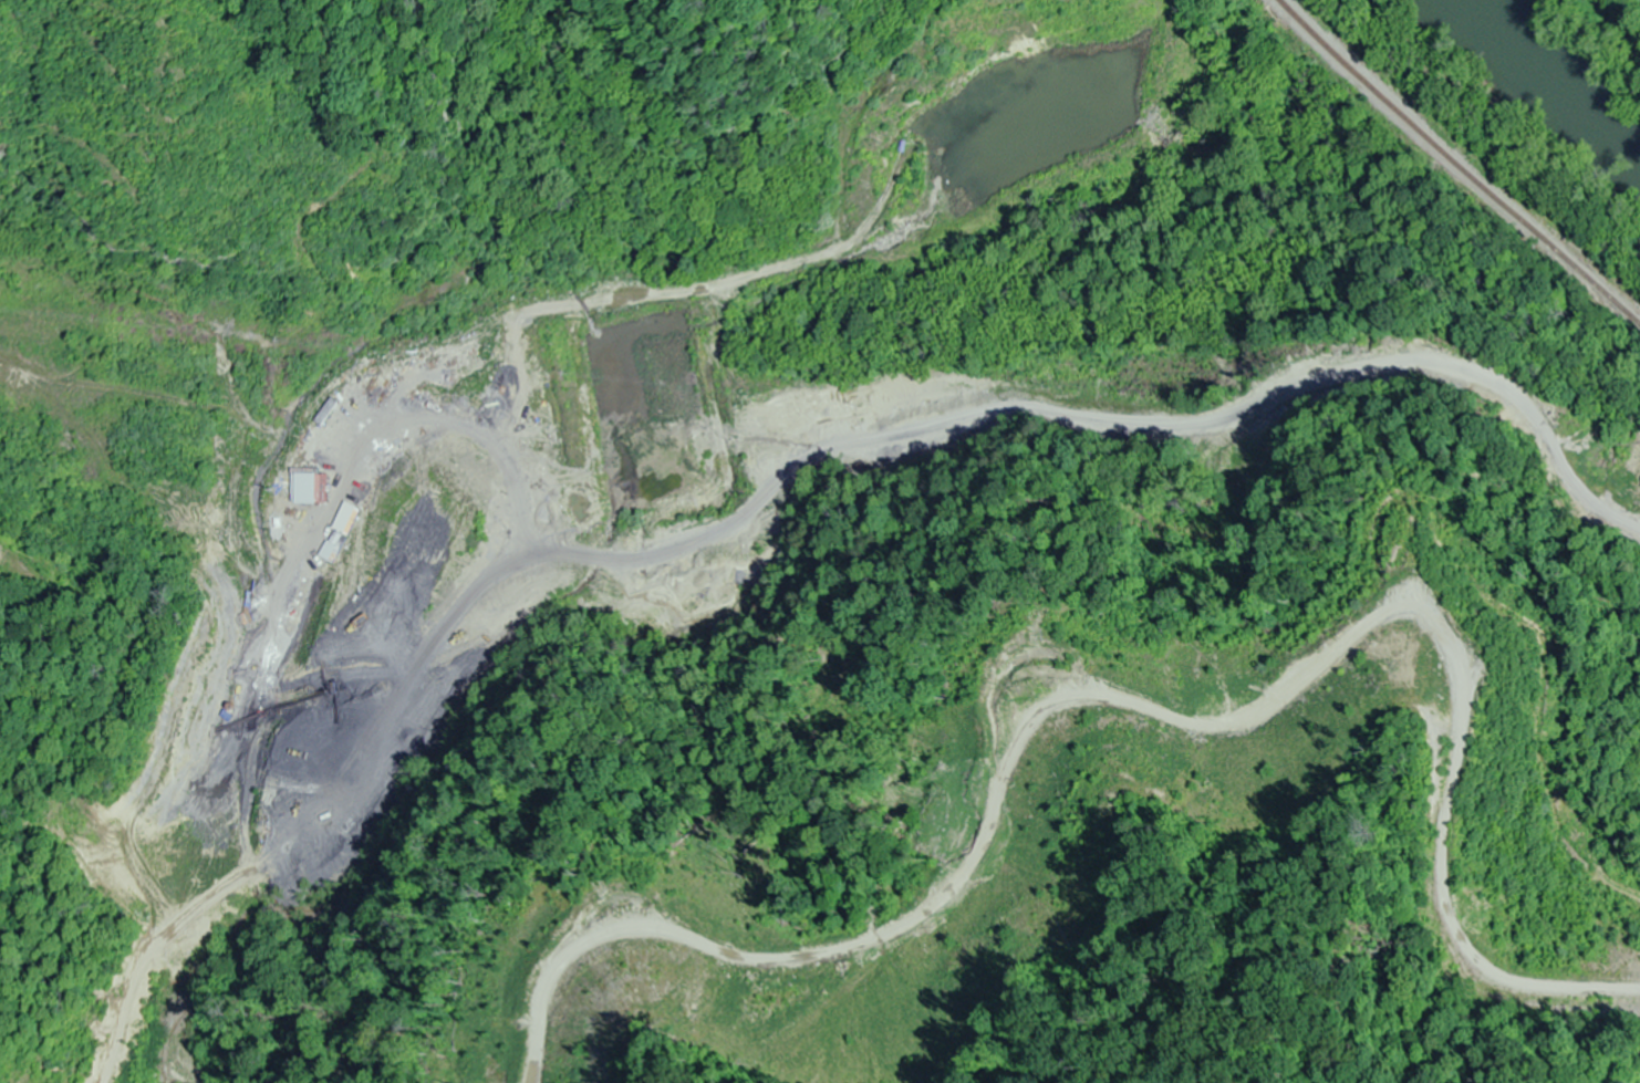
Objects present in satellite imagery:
river: (1557, 75)
railway: (1460, 166)

